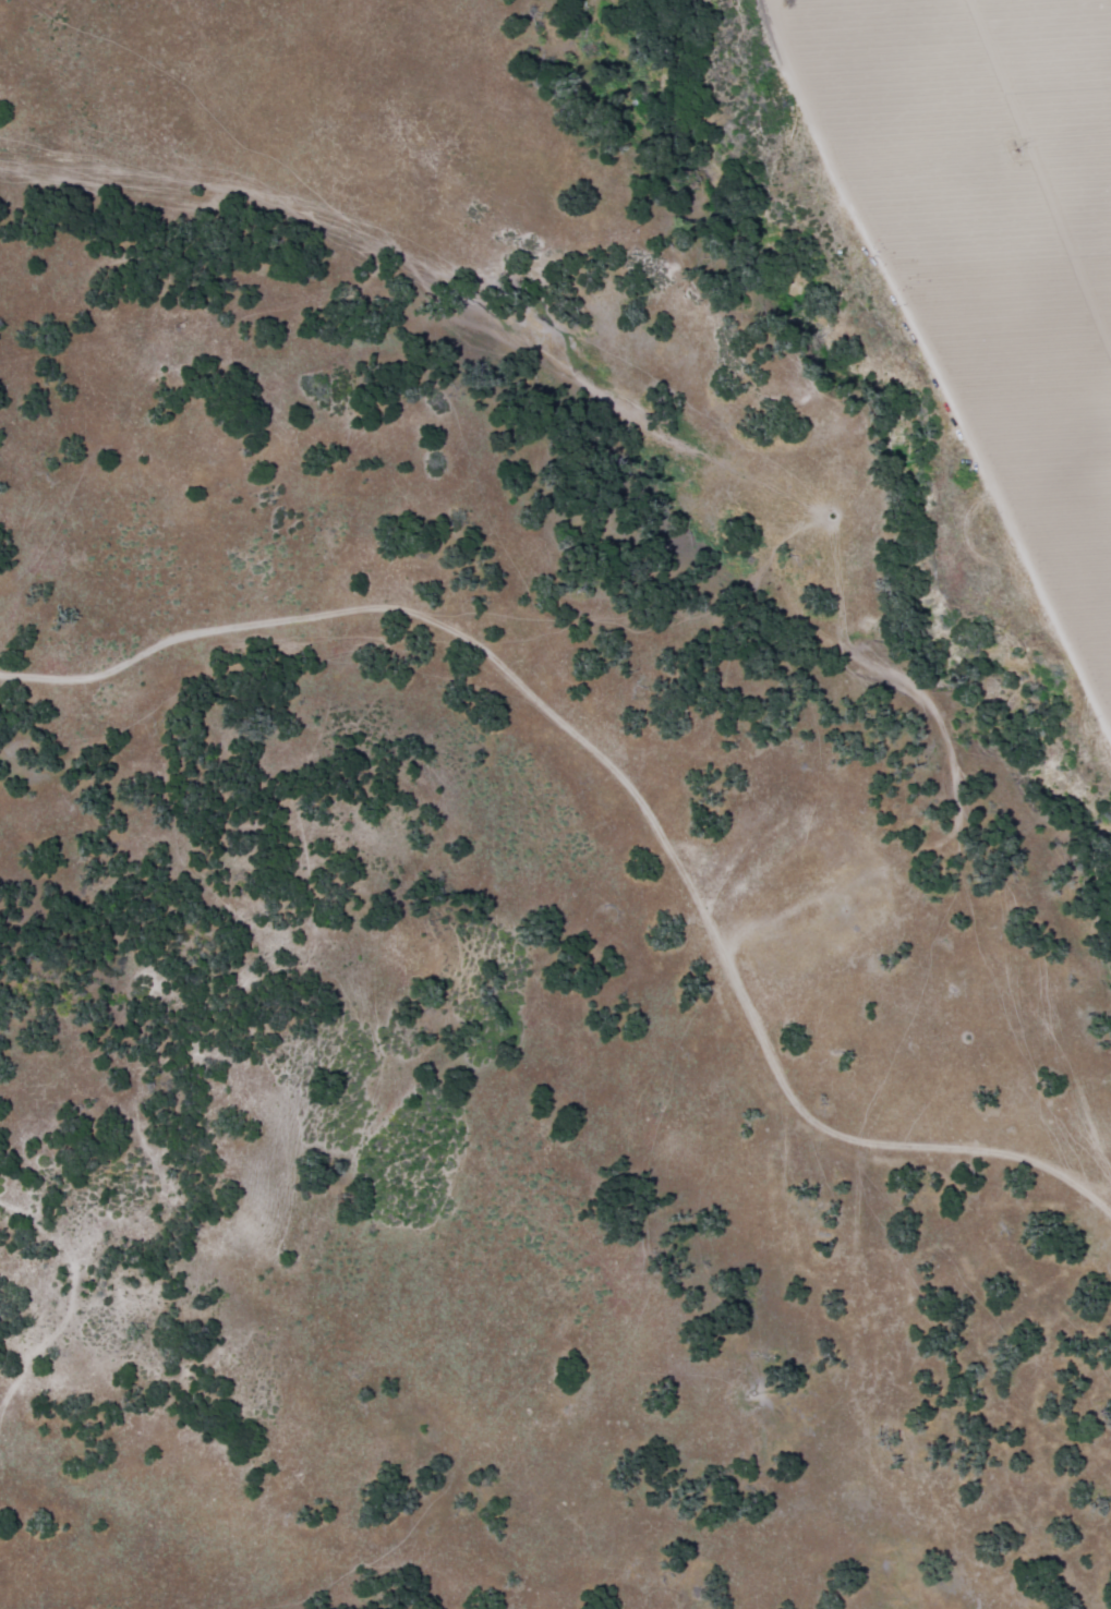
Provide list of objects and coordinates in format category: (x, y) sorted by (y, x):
road: (775, 48)
road: (246, 165)
crop: (995, 234)
road: (958, 410)

